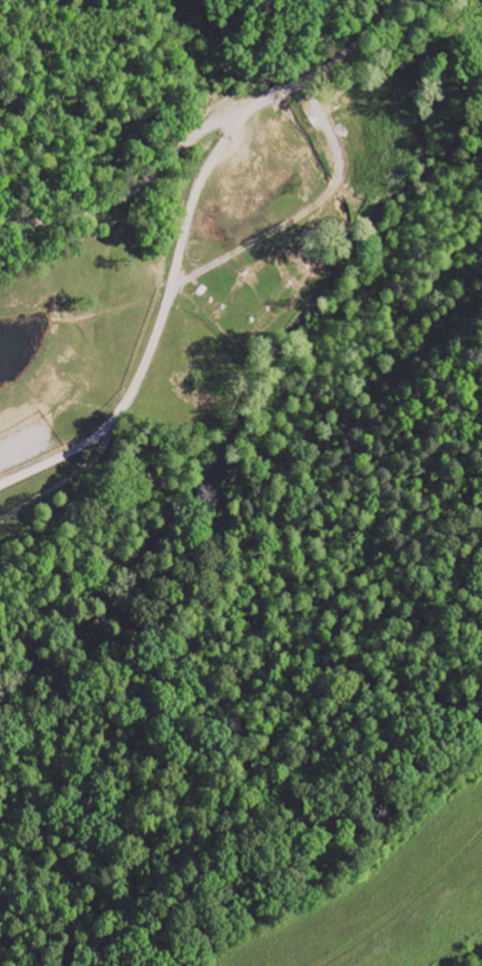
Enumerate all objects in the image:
road: (321, 67)
road: (126, 192)
road: (155, 330)
park: (249, 552)

